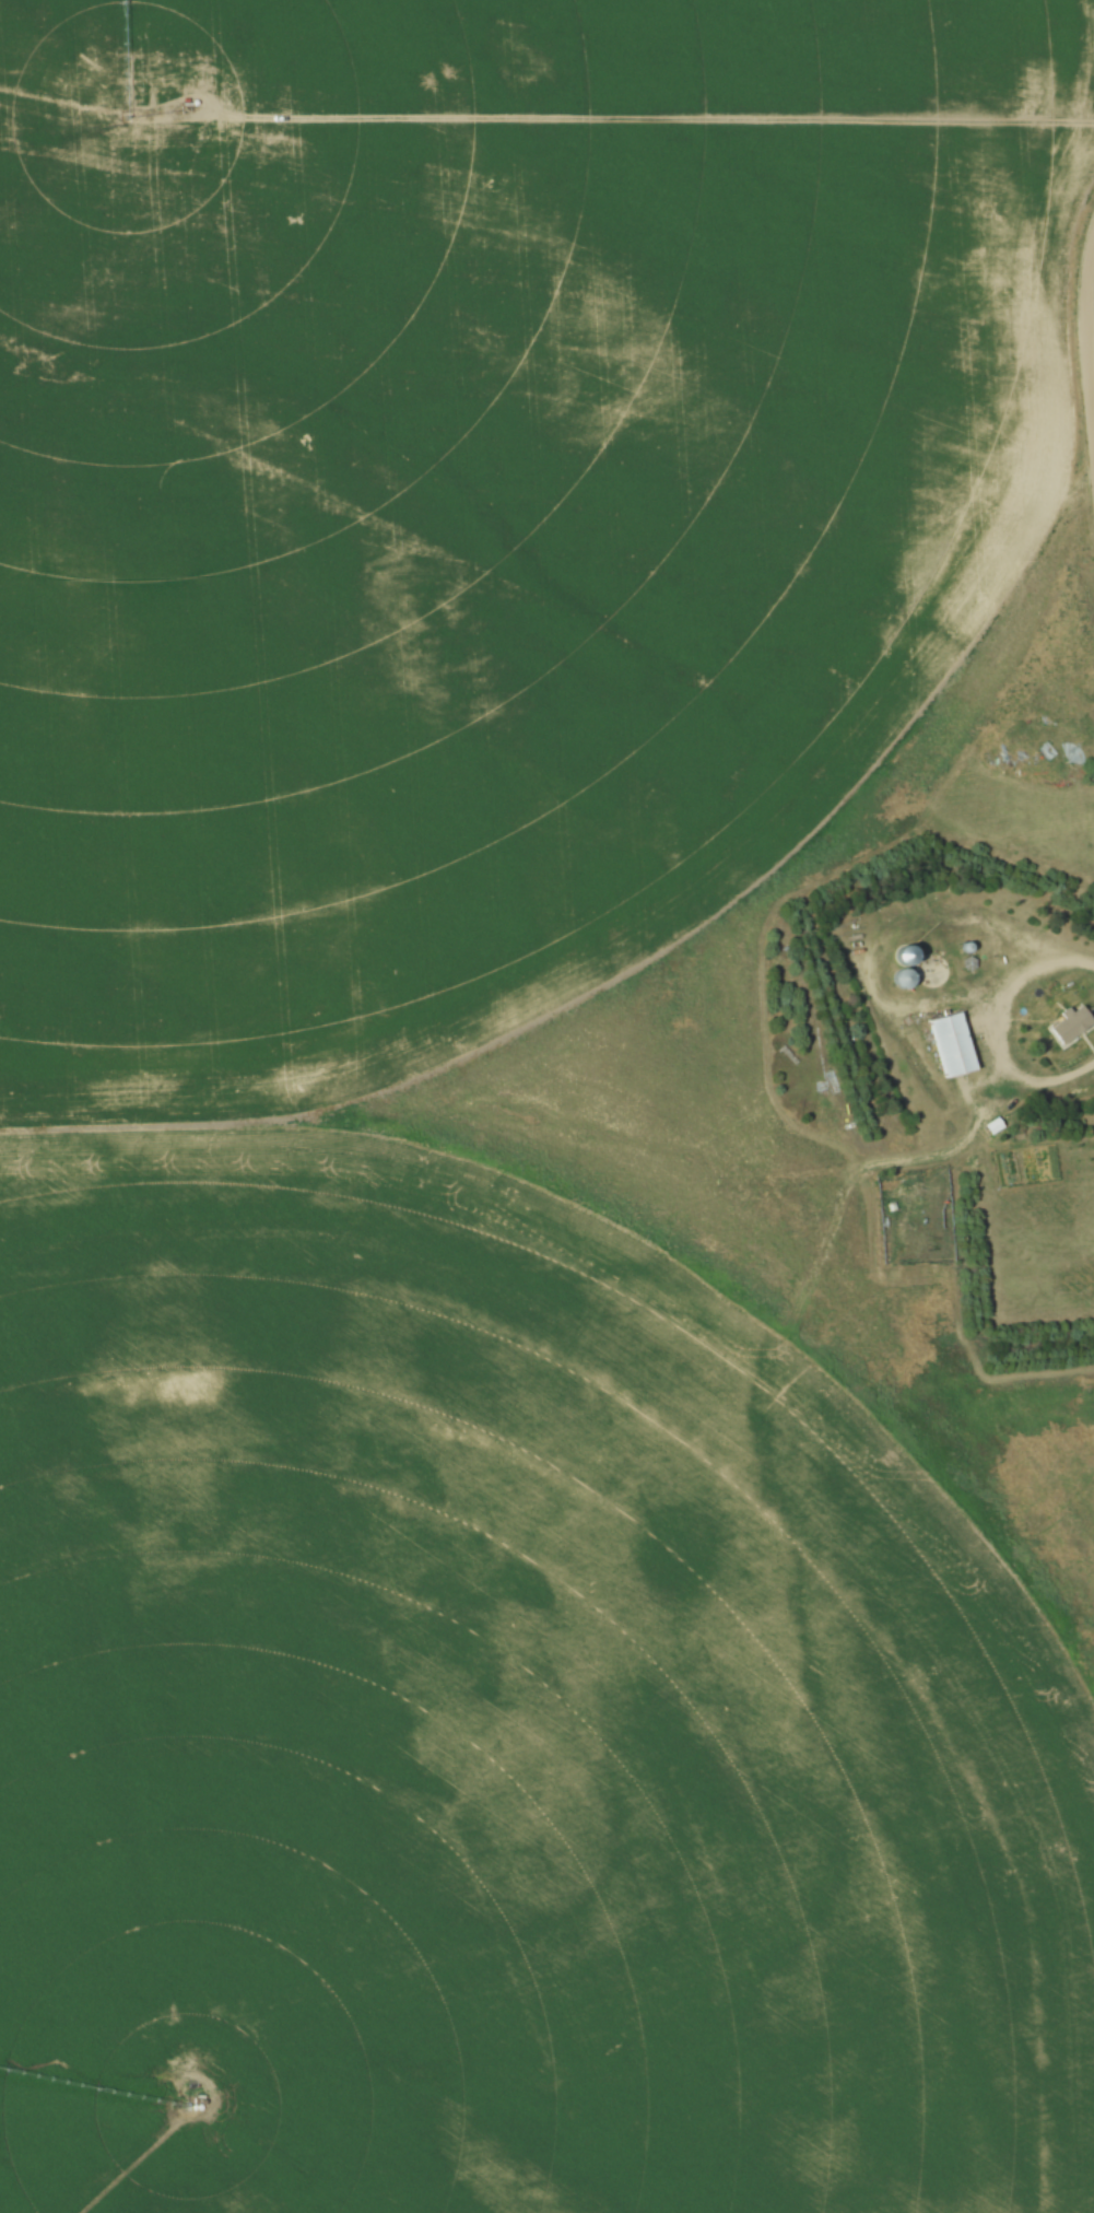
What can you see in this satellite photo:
road: (1085, 297)
building: (903, 956)
building: (905, 977)
building: (1070, 1026)
building: (952, 1045)
road: (1086, 1053)

